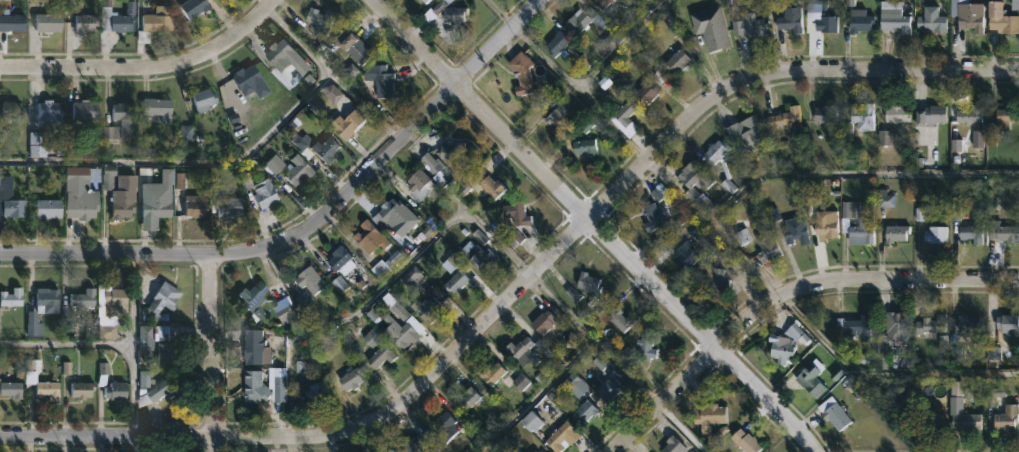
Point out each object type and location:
building: (221, 0)
building: (427, 1)
building: (598, 3)
building: (194, 8)
building: (452, 12)
building: (968, 16)
building: (116, 18)
building: (931, 18)
building: (1000, 19)
building: (51, 20)
building: (323, 20)
building: (578, 20)
building: (789, 20)
building: (892, 20)
building: (854, 21)
building: (13, 22)
building: (86, 22)
building: (155, 23)
building: (824, 23)
building: (747, 25)
building: (709, 28)
building: (554, 44)
road: (623, 44)
building: (360, 48)
building: (289, 61)
building: (674, 61)
road: (149, 70)
building: (520, 74)
building: (246, 77)
road: (568, 79)
building: (385, 81)
building: (645, 91)
building: (204, 99)
building: (160, 109)
building: (14, 110)
building: (87, 110)
building: (623, 112)
building: (51, 114)
building: (823, 114)
building: (894, 115)
building: (967, 115)
building: (928, 116)
building: (1005, 116)
building: (782, 117)
building: (125, 118)
building: (857, 119)
building: (555, 120)
building: (344, 124)
building: (744, 134)
building: (37, 145)
building: (313, 146)
building: (582, 147)
road: (390, 150)
building: (451, 150)
building: (435, 167)
building: (294, 170)
building: (723, 171)
road: (811, 173)
building: (692, 176)
building: (484, 183)
building: (421, 188)
building: (82, 193)
building: (266, 194)
building: (120, 195)
building: (10, 199)
building: (699, 201)
building: (157, 203)
building: (197, 206)
building: (224, 208)
building: (654, 208)
building: (50, 209)
building: (392, 209)
building: (519, 215)
building: (864, 222)
road: (595, 224)
building: (821, 224)
building: (971, 228)
building: (793, 230)
building: (894, 233)
building: (1002, 233)
building: (933, 235)
building: (373, 238)
building: (765, 248)
road: (106, 253)
building: (683, 255)
building: (474, 256)
building: (344, 259)
building: (591, 280)
building: (453, 282)
building: (714, 282)
road: (522, 284)
building: (308, 285)
road: (784, 292)
building: (253, 293)
building: (85, 297)
building: (13, 298)
building: (118, 299)
building: (165, 300)
building: (43, 308)
building: (428, 308)
building: (287, 314)
building: (618, 320)
building: (546, 321)
building: (1005, 323)
building: (851, 325)
building: (928, 325)
building: (107, 326)
building: (965, 326)
building: (406, 330)
building: (147, 335)
building: (890, 337)
building: (374, 339)
road: (596, 339)
road: (118, 342)
building: (256, 346)
building: (643, 347)
building: (779, 349)
road: (212, 352)
building: (517, 352)
building: (168, 354)
road: (839, 354)
building: (383, 355)
building: (493, 372)
building: (353, 378)
building: (809, 379)
building: (43, 383)
building: (277, 383)
building: (11, 388)
building: (258, 388)
building: (83, 389)
building: (117, 389)
building: (163, 390)
building: (609, 390)
building: (319, 391)
road: (536, 394)
building: (994, 394)
building: (470, 397)
building: (586, 414)
building: (706, 414)
building: (832, 414)
building: (1004, 419)
building: (965, 422)
building: (534, 423)
building: (441, 427)
building: (560, 436)
building: (745, 441)
building: (417, 442)
building: (670, 444)
road: (288, 445)
building: (391, 451)
building: (395, 451)
building: (531, 451)

